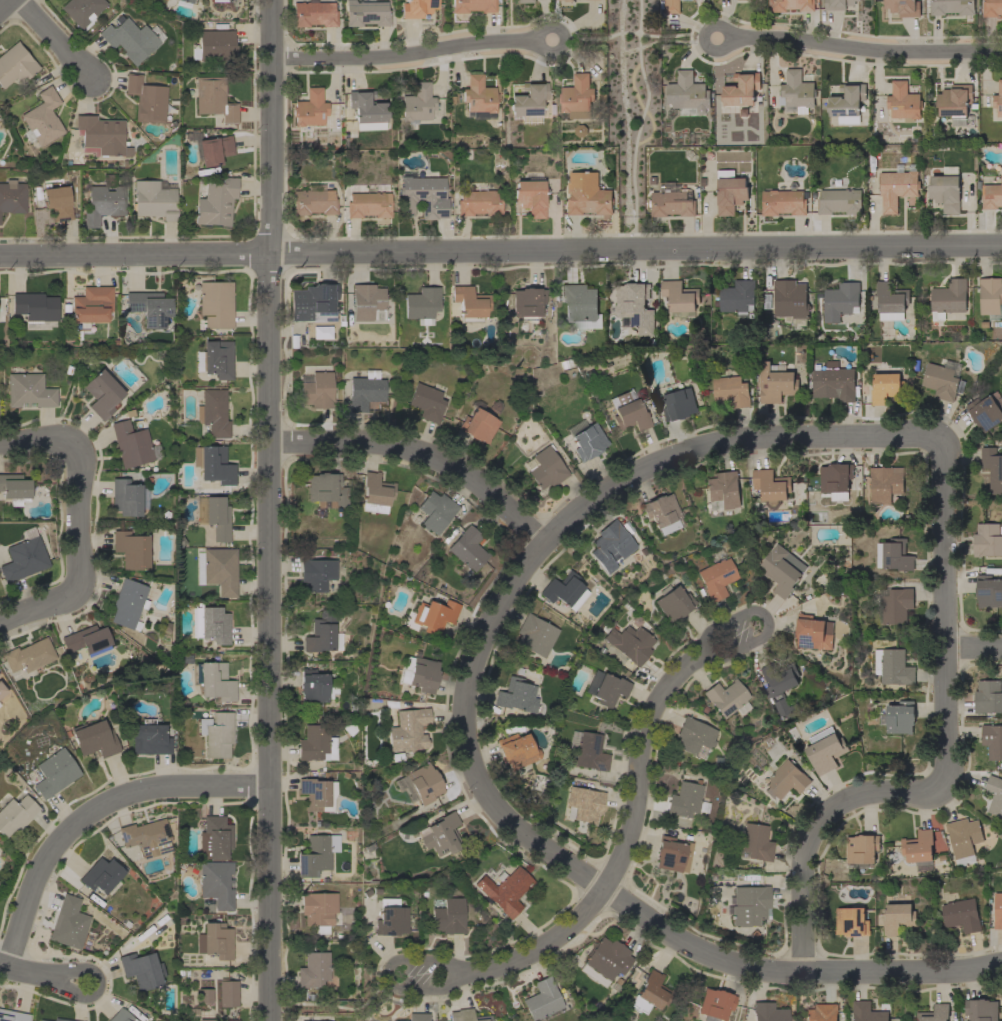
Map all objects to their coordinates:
building: (218, 0)
building: (563, 0)
building: (527, 1)
building: (183, 2)
road: (4, 4)
building: (838, 4)
building: (472, 5)
building: (791, 5)
building: (671, 6)
building: (903, 7)
building: (951, 7)
building: (417, 8)
building: (992, 8)
building: (82, 9)
building: (313, 13)
building: (366, 13)
building: (131, 38)
road: (55, 39)
road: (561, 39)
road: (728, 39)
building: (215, 45)
road: (864, 50)
road: (405, 54)
building: (15, 65)
building: (741, 90)
building: (797, 91)
building: (687, 92)
building: (577, 97)
building: (213, 98)
building: (478, 98)
building: (146, 99)
building: (998, 99)
building: (528, 101)
building: (903, 102)
building: (417, 103)
building: (847, 103)
building: (955, 103)
building: (366, 107)
building: (310, 108)
building: (795, 110)
building: (41, 119)
building: (580, 131)
building: (101, 135)
building: (210, 148)
building: (897, 187)
building: (945, 190)
building: (730, 192)
building: (422, 195)
building: (588, 195)
building: (12, 196)
building: (530, 196)
building: (992, 196)
building: (154, 198)
building: (313, 200)
building: (216, 201)
building: (839, 201)
building: (57, 202)
building: (479, 202)
building: (671, 202)
building: (783, 202)
building: (103, 203)
building: (368, 204)
road: (501, 252)
building: (737, 298)
building: (991, 298)
building: (679, 299)
building: (947, 300)
building: (367, 301)
building: (790, 301)
building: (840, 301)
building: (891, 301)
building: (313, 302)
building: (215, 303)
building: (469, 303)
building: (527, 303)
building: (422, 304)
building: (91, 306)
building: (581, 306)
building: (147, 307)
building: (635, 307)
building: (36, 309)
building: (215, 358)
building: (942, 380)
building: (775, 383)
building: (834, 384)
building: (885, 385)
building: (316, 389)
building: (28, 390)
building: (365, 390)
building: (731, 392)
building: (102, 393)
building: (426, 402)
building: (678, 405)
building: (628, 411)
building: (986, 411)
building: (213, 412)
building: (478, 425)
road: (28, 438)
building: (586, 439)
building: (133, 444)
road: (420, 453)
building: (214, 464)
building: (546, 467)
building: (993, 468)
building: (835, 480)
building: (885, 484)
building: (771, 487)
building: (14, 488)
building: (326, 488)
building: (722, 491)
building: (376, 493)
building: (127, 497)
road: (77, 507)
road: (269, 510)
building: (434, 511)
building: (662, 512)
building: (214, 516)
building: (988, 540)
road: (544, 541)
building: (610, 545)
building: (467, 548)
building: (131, 549)
building: (893, 555)
building: (24, 557)
building: (217, 569)
building: (782, 570)
building: (317, 574)
building: (716, 578)
building: (562, 588)
building: (988, 592)
building: (128, 602)
building: (673, 603)
building: (896, 606)
road: (41, 607)
building: (434, 615)
road: (766, 619)
building: (210, 624)
building: (323, 633)
building: (813, 633)
building: (535, 635)
building: (85, 639)
building: (629, 643)
road: (974, 649)
building: (29, 655)
building: (893, 667)
building: (420, 673)
building: (214, 680)
building: (315, 685)
building: (605, 688)
building: (781, 688)
building: (2, 690)
building: (516, 695)
building: (727, 697)
building: (988, 697)
building: (897, 717)
building: (408, 730)
building: (216, 734)
building: (693, 736)
building: (150, 738)
building: (94, 739)
building: (992, 741)
building: (315, 743)
building: (517, 750)
building: (587, 750)
building: (825, 750)
road: (946, 759)
building: (54, 773)
building: (786, 780)
building: (419, 783)
building: (316, 792)
building: (994, 795)
building: (685, 799)
building: (584, 804)
road: (90, 812)
building: (15, 814)
building: (440, 834)
building: (146, 836)
building: (215, 838)
building: (964, 839)
building: (755, 842)
road: (625, 843)
building: (861, 849)
building: (919, 850)
building: (316, 854)
building: (671, 854)
building: (101, 874)
building: (215, 882)
building: (505, 889)
building: (748, 904)
building: (318, 910)
building: (997, 911)
building: (447, 914)
building: (961, 915)
building: (391, 917)
building: (898, 918)
building: (68, 922)
building: (851, 922)
building: (215, 940)
building: (605, 960)
building: (140, 969)
building: (313, 969)
road: (791, 972)
road: (29, 973)
road: (388, 976)
road: (95, 986)
building: (227, 992)
building: (650, 992)
building: (204, 995)
building: (542, 999)
building: (714, 1004)
building: (981, 1010)
building: (768, 1012)
building: (867, 1012)
building: (821, 1013)
building: (934, 1013)
building: (12, 1015)
building: (466, 1015)
building: (121, 1016)
building: (417, 1017)
building: (61, 1019)
building: (205, 1019)
building: (42, 1020)
building: (229, 1020)
building: (304, 1020)

